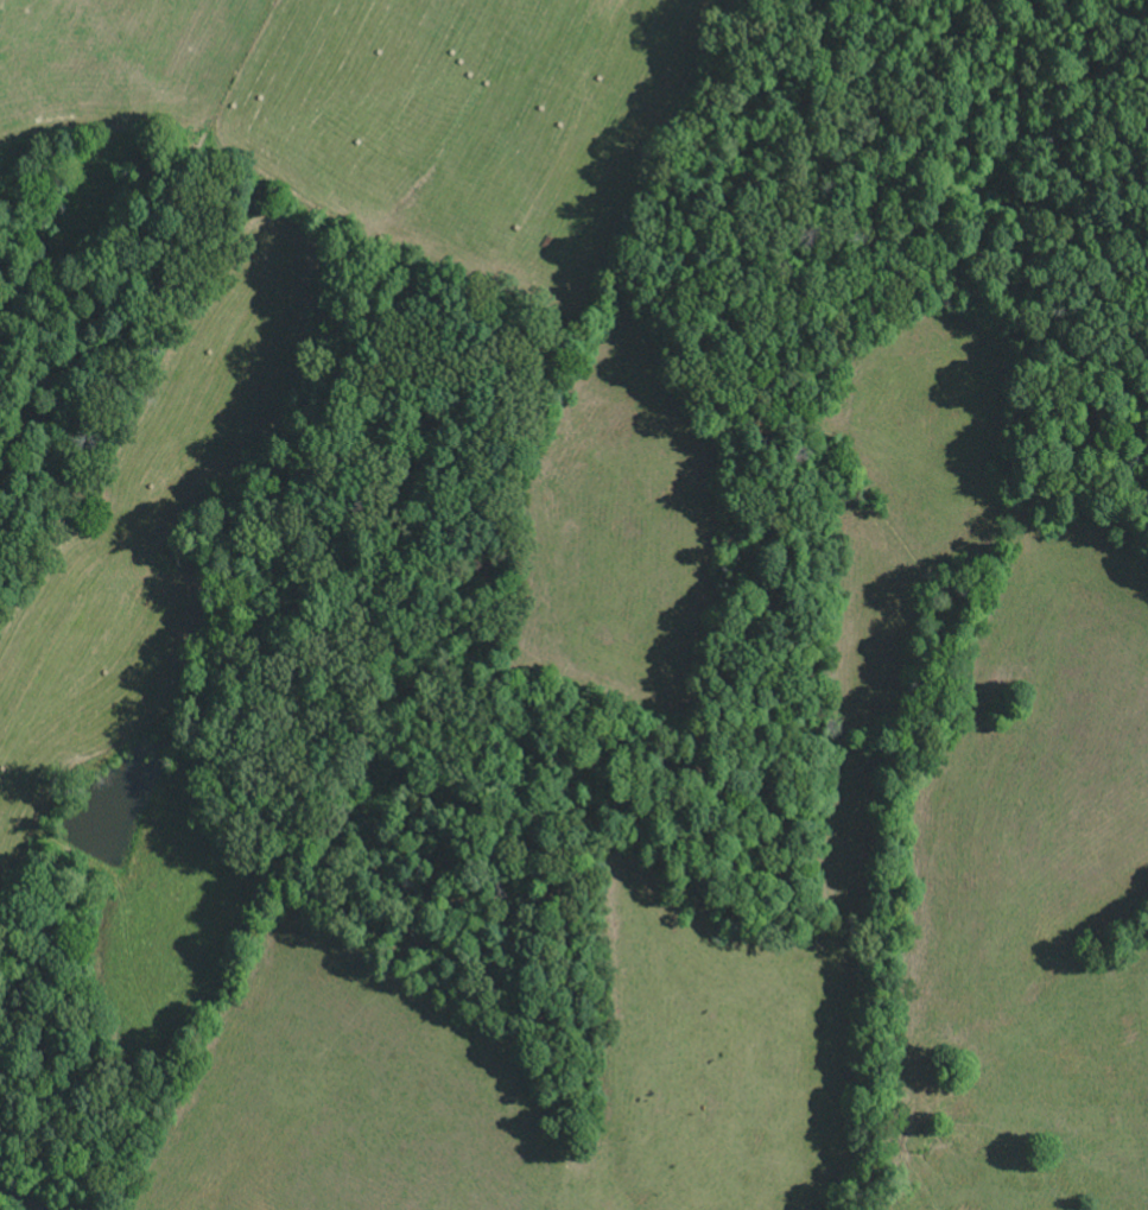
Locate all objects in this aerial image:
road: (21, 1195)

